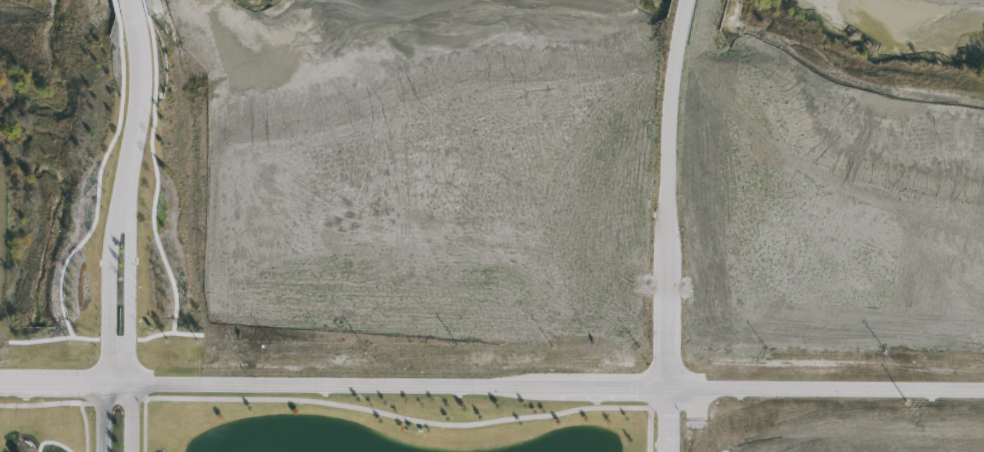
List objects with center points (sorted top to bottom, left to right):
road: (139, 107)
road: (668, 190)
road: (118, 345)
road: (118, 365)
road: (492, 383)
road: (664, 417)
road: (103, 418)
road: (131, 418)

